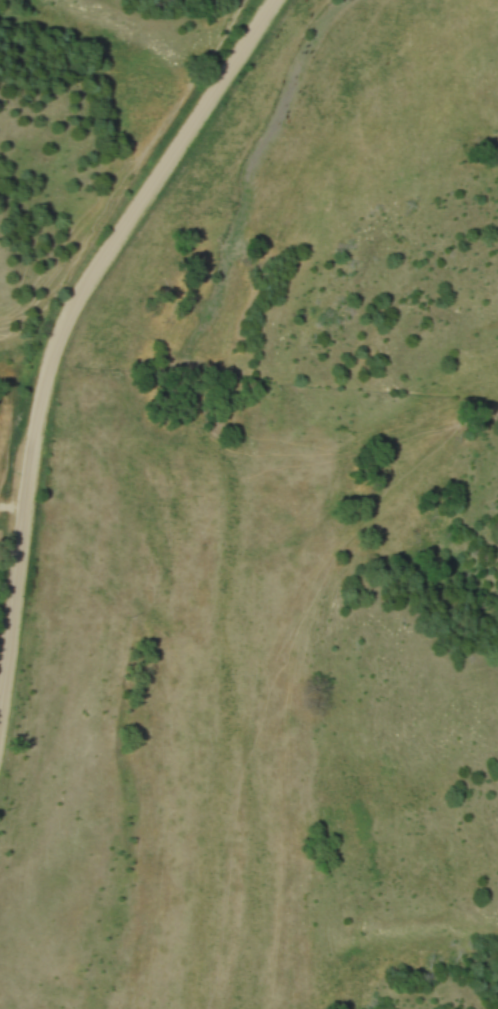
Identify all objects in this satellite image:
road: (67, 314)

